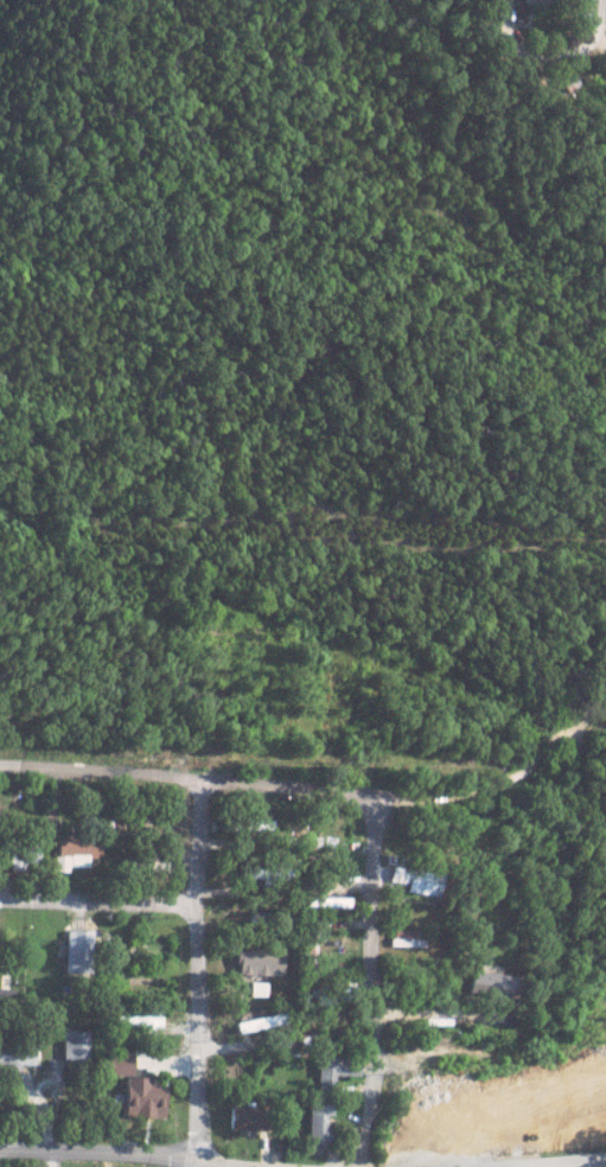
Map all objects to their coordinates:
road: (509, 19)
road: (563, 58)
road: (280, 785)
building: (72, 850)
building: (17, 855)
building: (263, 873)
building: (394, 874)
building: (420, 882)
road: (100, 903)
building: (404, 938)
building: (76, 951)
building: (259, 962)
road: (199, 974)
road: (372, 981)
building: (491, 983)
building: (136, 1022)
building: (75, 1051)
building: (15, 1056)
building: (119, 1063)
building: (333, 1072)
building: (142, 1092)
building: (248, 1118)
building: (320, 1122)
road: (104, 1159)
road: (579, 1162)
road: (547, 1166)

